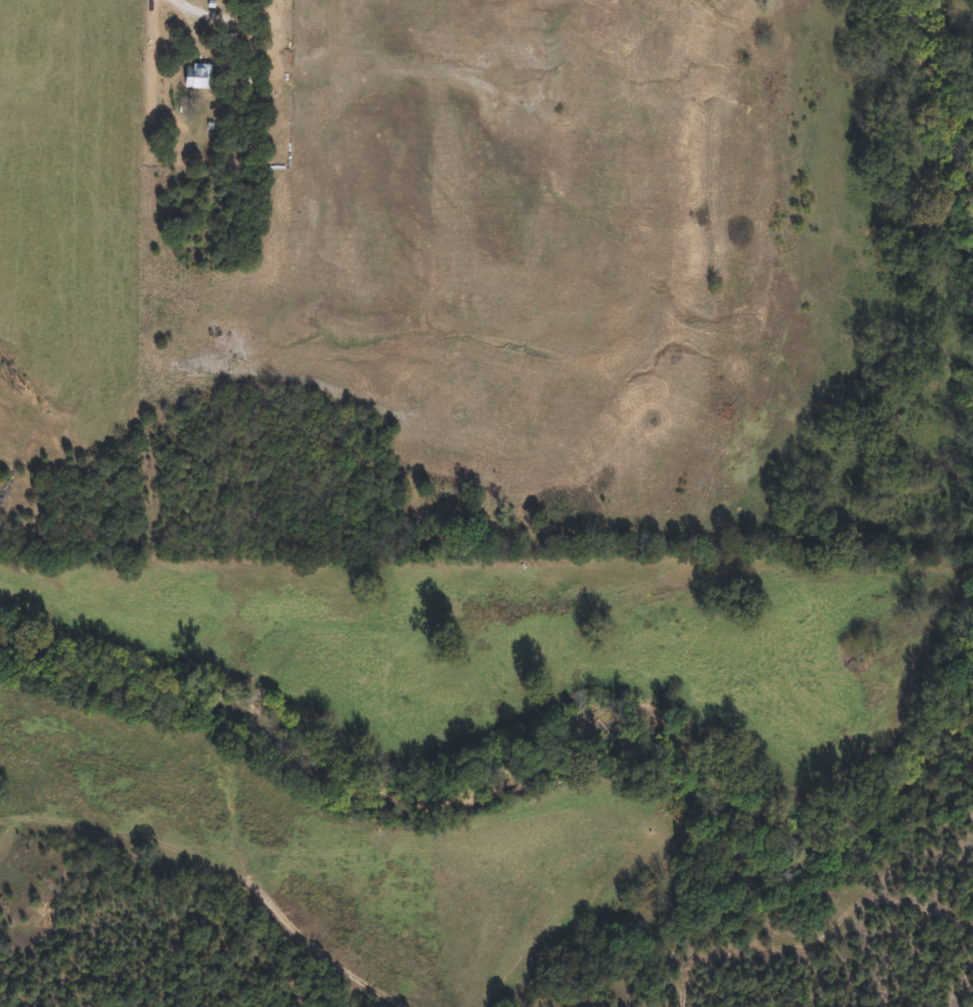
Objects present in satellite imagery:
road: (184, 6)
road: (215, 872)

